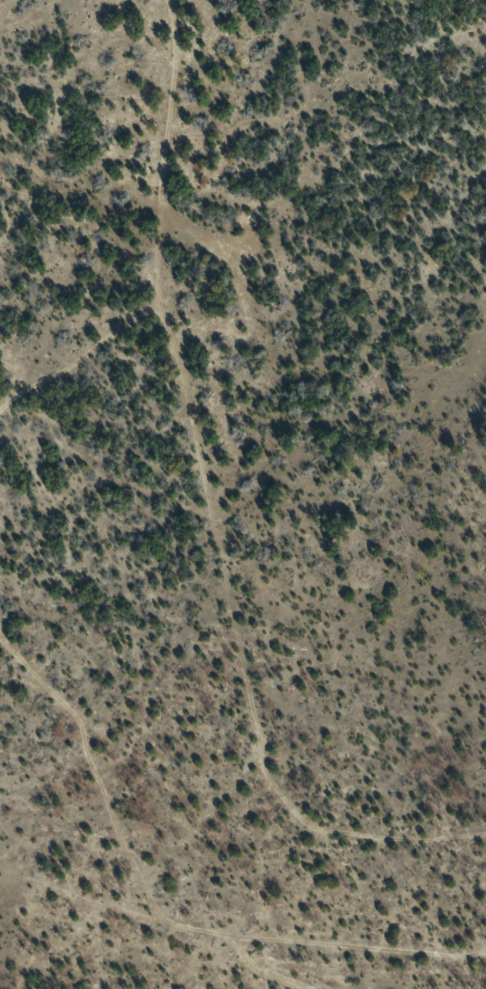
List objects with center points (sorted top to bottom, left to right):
road: (211, 499)
road: (240, 960)

